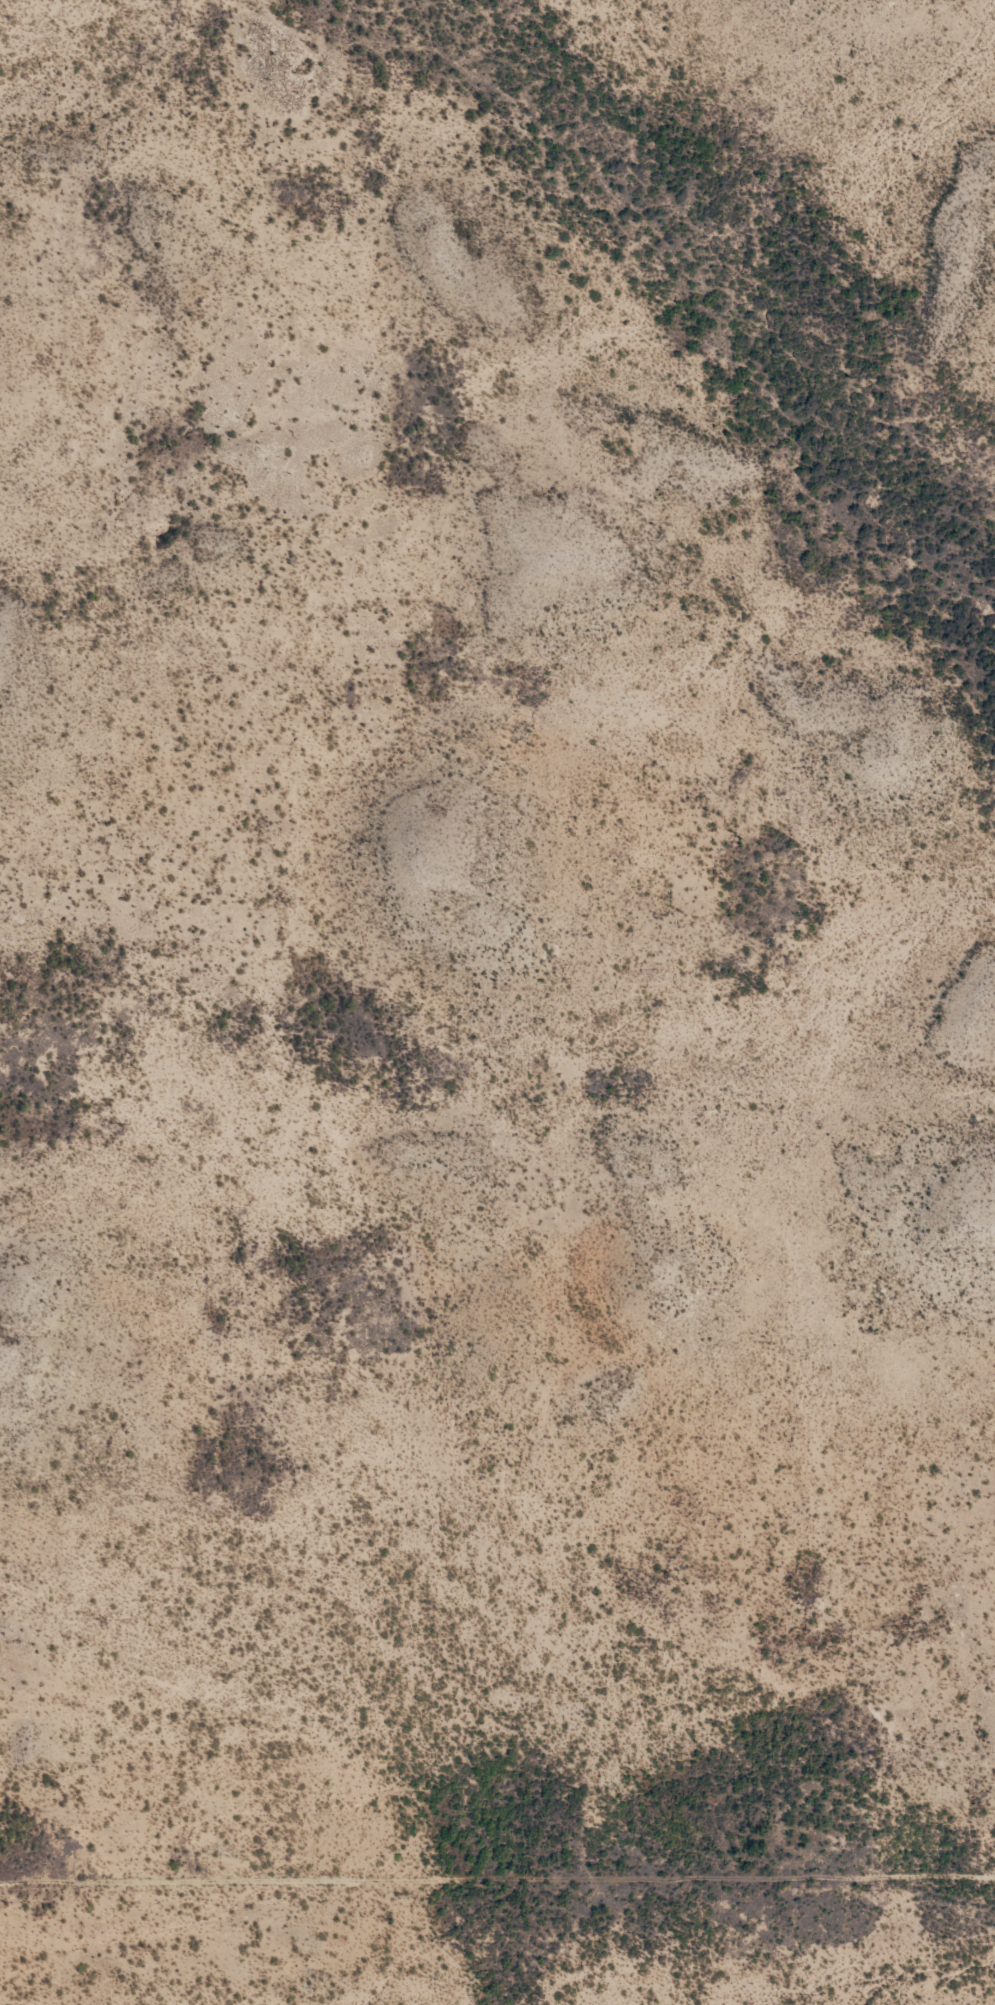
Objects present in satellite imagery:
road: (497, 1803)

